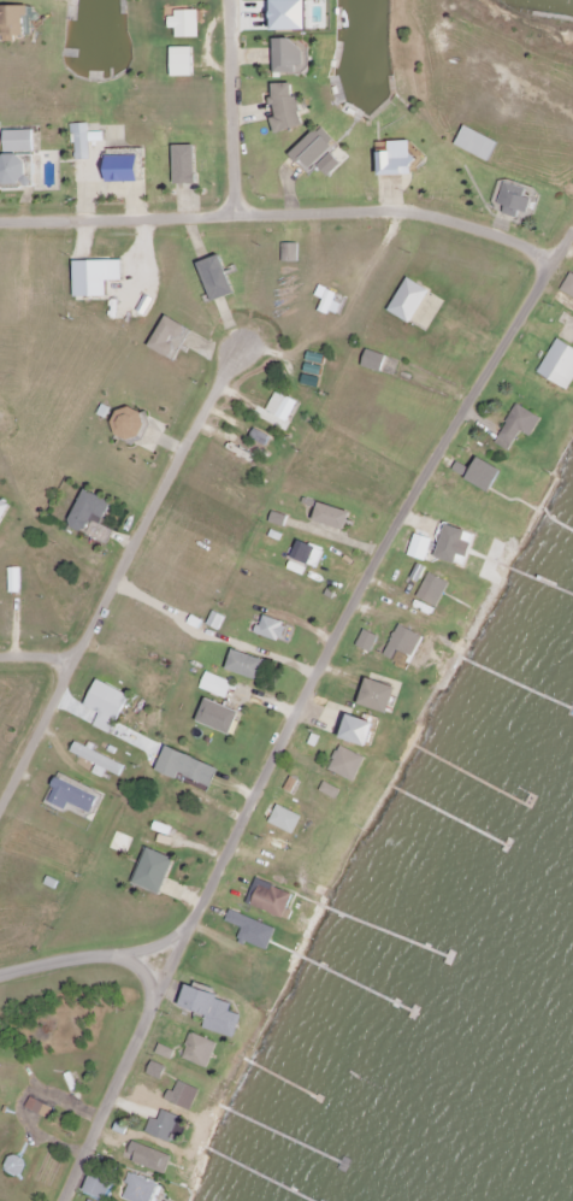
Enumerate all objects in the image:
building: (70, 0)
building: (294, 14)
building: (16, 23)
building: (187, 24)
building: (290, 57)
building: (184, 61)
road: (235, 105)
building: (288, 108)
building: (20, 142)
building: (478, 143)
building: (317, 149)
building: (402, 159)
building: (188, 165)
building: (333, 165)
building: (14, 169)
building: (129, 169)
building: (516, 200)
road: (280, 210)
building: (291, 253)
building: (98, 277)
building: (219, 279)
building: (568, 288)
building: (329, 301)
building: (410, 301)
building: (171, 338)
building: (376, 361)
building: (560, 365)
building: (283, 406)
road: (1, 417)
building: (271, 419)
building: (131, 423)
building: (518, 426)
building: (482, 473)
building: (91, 511)
building: (5, 512)
building: (335, 516)
pier: (557, 522)
building: (455, 544)
building: (421, 547)
building: (311, 553)
road: (118, 576)
building: (16, 579)
pier: (543, 581)
building: (433, 589)
building: (274, 629)
building: (368, 640)
building: (403, 642)
road: (40, 654)
building: (248, 665)
pier: (518, 684)
building: (217, 685)
building: (380, 695)
building: (107, 705)
road: (294, 716)
building: (220, 717)
building: (365, 730)
building: (100, 761)
building: (348, 764)
building: (190, 769)
pier: (473, 777)
building: (75, 796)
pier: (447, 814)
building: (285, 819)
building: (156, 870)
building: (254, 931)
pier: (385, 931)
road: (88, 954)
pier: (358, 983)
building: (214, 1011)
building: (200, 1050)
building: (166, 1052)
building: (156, 1070)
pier: (280, 1079)
building: (183, 1095)
building: (41, 1108)
building: (164, 1126)
building: (181, 1131)
pier: (280, 1135)
building: (150, 1159)
pier: (258, 1173)
building: (100, 1188)
building: (140, 1189)
building: (89, 1200)

